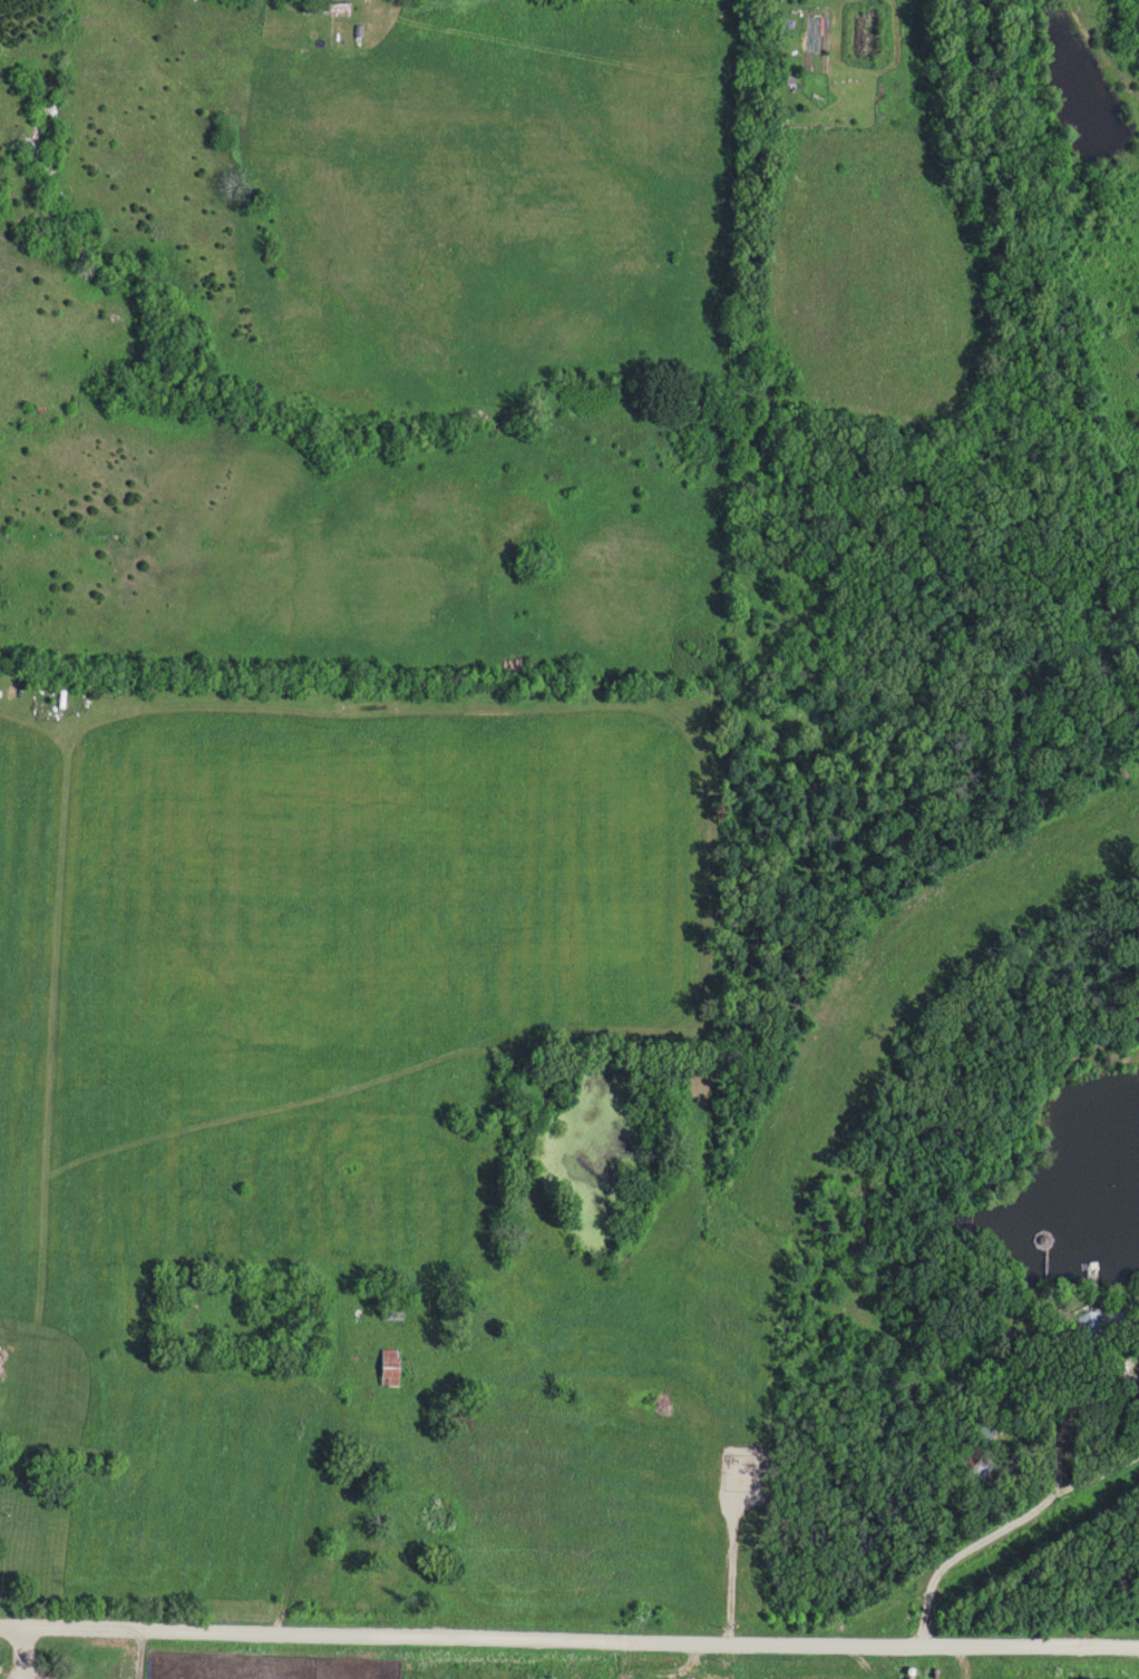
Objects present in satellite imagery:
building: (1098, 1321)
road: (1003, 1532)
road: (568, 1641)
road: (22, 1653)

